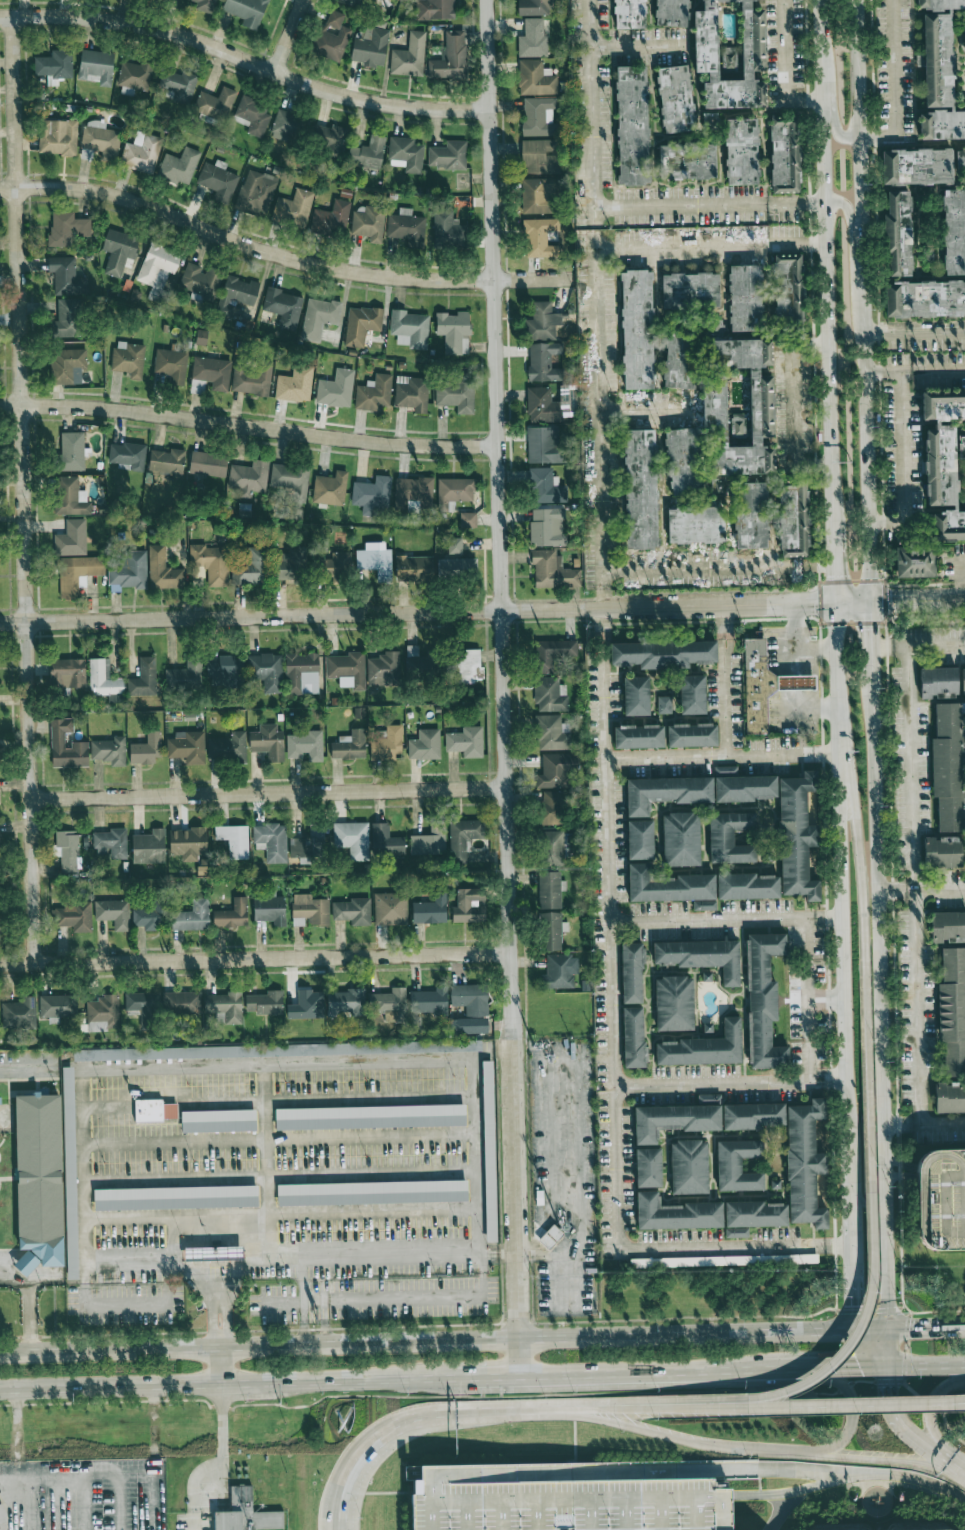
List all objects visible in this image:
building: (352, 2)
building: (205, 5)
building: (535, 6)
building: (435, 9)
building: (246, 11)
building: (672, 12)
building: (629, 13)
road: (288, 36)
building: (332, 36)
building: (532, 38)
building: (370, 47)
road: (636, 51)
building: (730, 53)
building: (409, 56)
building: (451, 57)
road: (245, 60)
building: (54, 66)
building: (96, 66)
road: (783, 68)
building: (939, 72)
building: (134, 75)
building: (535, 78)
building: (179, 85)
road: (894, 85)
building: (675, 98)
road: (859, 99)
road: (832, 100)
building: (215, 104)
building: (252, 116)
building: (538, 116)
building: (632, 125)
building: (58, 137)
building: (331, 138)
building: (99, 141)
building: (741, 151)
building: (141, 152)
building: (368, 153)
building: (406, 154)
building: (784, 154)
building: (448, 155)
building: (539, 156)
building: (960, 160)
building: (686, 161)
building: (179, 166)
building: (917, 166)
building: (218, 182)
building: (256, 192)
building: (537, 196)
road: (707, 207)
building: (293, 208)
building: (330, 218)
building: (368, 222)
road: (862, 222)
building: (407, 227)
building: (67, 228)
building: (448, 231)
road: (850, 231)
building: (954, 231)
building: (898, 234)
building: (540, 237)
road: (708, 246)
building: (119, 251)
road: (278, 255)
road: (826, 260)
road: (863, 260)
building: (158, 267)
building: (67, 276)
building: (201, 279)
building: (690, 290)
building: (788, 291)
building: (236, 295)
building: (745, 298)
building: (925, 299)
road: (591, 304)
building: (283, 307)
building: (319, 317)
building: (67, 318)
building: (542, 322)
building: (361, 324)
building: (410, 328)
building: (637, 329)
building: (454, 331)
road: (914, 331)
building: (681, 354)
building: (129, 359)
building: (544, 362)
building: (171, 365)
building: (67, 366)
road: (915, 370)
building: (210, 374)
building: (252, 379)
building: (295, 384)
building: (336, 389)
building: (374, 393)
building: (411, 393)
building: (455, 395)
road: (788, 401)
road: (642, 405)
building: (546, 406)
building: (738, 407)
road: (249, 426)
road: (867, 438)
building: (545, 445)
building: (72, 451)
building: (127, 456)
building: (167, 461)
building: (945, 461)
building: (677, 463)
building: (207, 464)
road: (904, 464)
building: (248, 479)
building: (291, 479)
building: (546, 486)
building: (330, 488)
road: (25, 491)
building: (633, 491)
building: (454, 492)
building: (413, 493)
building: (372, 496)
building: (70, 497)
building: (743, 517)
building: (468, 519)
building: (780, 520)
building: (685, 526)
building: (547, 527)
building: (71, 538)
building: (454, 545)
building: (375, 560)
building: (915, 560)
road: (834, 561)
road: (962, 561)
road: (715, 562)
building: (211, 563)
building: (290, 565)
building: (336, 567)
building: (252, 568)
building: (414, 568)
building: (457, 568)
building: (163, 570)
building: (128, 571)
building: (552, 571)
building: (77, 573)
road: (960, 580)
road: (917, 600)
road: (852, 602)
traffic signals: (871, 602)
traffic signals: (834, 603)
road: (416, 612)
road: (871, 633)
road: (795, 637)
road: (815, 645)
road: (883, 649)
road: (903, 649)
building: (663, 650)
building: (552, 652)
road: (835, 658)
building: (417, 661)
road: (801, 661)
road: (789, 662)
building: (468, 665)
road: (501, 668)
building: (347, 669)
building: (383, 669)
building: (266, 671)
building: (67, 673)
building: (302, 674)
building: (185, 676)
building: (103, 678)
building: (144, 678)
building: (795, 679)
gas station: (795, 679)
road: (797, 679)
road: (807, 679)
road: (783, 680)
building: (960, 680)
road: (724, 681)
building: (933, 682)
building: (757, 685)
building: (692, 692)
building: (549, 693)
building: (636, 694)
road: (790, 696)
road: (797, 696)
road: (802, 696)
building: (115, 698)
building: (664, 703)
road: (814, 710)
building: (551, 731)
building: (691, 733)
building: (639, 735)
building: (268, 741)
building: (466, 741)
building: (387, 744)
building: (66, 745)
building: (349, 745)
building: (424, 745)
building: (305, 746)
building: (187, 747)
building: (227, 747)
building: (146, 749)
building: (109, 750)
road: (720, 758)
building: (557, 768)
building: (941, 768)
building: (726, 769)
building: (744, 786)
building: (665, 790)
road: (268, 794)
building: (551, 807)
building: (796, 832)
building: (730, 836)
building: (464, 837)
building: (639, 837)
building: (680, 837)
building: (352, 839)
building: (234, 840)
building: (271, 841)
building: (385, 841)
building: (429, 841)
building: (111, 843)
building: (188, 843)
building: (308, 843)
building: (552, 846)
building: (149, 847)
building: (67, 850)
road: (913, 854)
building: (937, 855)
building: (766, 856)
building: (668, 883)
building: (746, 884)
building: (549, 888)
road: (936, 888)
road: (892, 889)
road: (841, 897)
building: (704, 903)
building: (469, 906)
building: (269, 908)
building: (390, 908)
building: (431, 909)
building: (309, 910)
building: (353, 911)
road: (864, 911)
building: (114, 913)
building: (232, 914)
building: (74, 916)
building: (149, 916)
building: (192, 916)
road: (725, 919)
building: (945, 926)
road: (608, 928)
building: (550, 930)
building: (0, 931)
building: (701, 954)
road: (254, 959)
building: (559, 970)
building: (631, 970)
building: (706, 975)
road: (826, 991)
building: (471, 996)
road: (880, 996)
building: (795, 997)
building: (764, 998)
road: (809, 999)
building: (430, 1000)
building: (346, 1001)
building: (389, 1001)
building: (673, 1001)
building: (181, 1002)
building: (265, 1002)
road: (827, 1004)
building: (58, 1005)
building: (143, 1005)
building: (225, 1005)
building: (307, 1005)
building: (19, 1013)
building: (949, 1013)
building: (102, 1014)
building: (708, 1026)
building: (632, 1036)
building: (703, 1045)
building: (277, 1048)
road: (333, 1057)
road: (730, 1085)
road: (368, 1097)
building: (946, 1098)
building: (708, 1099)
road: (224, 1101)
road: (105, 1107)
building: (154, 1110)
building: (751, 1114)
building: (369, 1115)
building: (674, 1118)
building: (218, 1119)
road: (939, 1123)
road: (898, 1124)
road: (369, 1136)
road: (848, 1137)
road: (172, 1142)
building: (489, 1149)
road: (264, 1158)
building: (804, 1161)
building: (737, 1164)
building: (688, 1165)
road: (900, 1165)
building: (648, 1166)
road: (566, 1167)
road: (370, 1172)
building: (70, 1173)
road: (901, 1177)
building: (38, 1178)
road: (173, 1178)
building: (775, 1183)
building: (372, 1190)
building: (175, 1196)
building: (942, 1198)
parking garage: (942, 1198)
road: (865, 1204)
road: (370, 1211)
building: (675, 1211)
building: (754, 1212)
road: (96, 1219)
road: (228, 1230)
road: (194, 1231)
building: (736, 1231)
building: (550, 1235)
road: (736, 1246)
building: (213, 1251)
road: (229, 1251)
road: (195, 1252)
road: (392, 1255)
road: (128, 1256)
road: (568, 1256)
building: (723, 1260)
road: (852, 1260)
road: (13, 1276)
road: (213, 1280)
road: (229, 1296)
road: (422, 1296)
road: (206, 1297)
road: (151, 1303)
traffic signals: (855, 1304)
road: (29, 1313)
road: (861, 1320)
road: (926, 1327)
traffic signals: (912, 1328)
road: (443, 1338)
road: (221, 1339)
road: (887, 1347)
road: (860, 1348)
road: (520, 1357)
road: (221, 1365)
road: (926, 1366)
road: (827, 1369)
traffic signals: (832, 1369)
road: (645, 1378)
road: (486, 1379)
traffic signals: (886, 1384)
road: (225, 1385)
road: (847, 1392)
road: (948, 1398)
road: (929, 1402)
road: (963, 1402)
road: (963, 1403)
road: (823, 1405)
road: (655, 1408)
road: (583, 1410)
road: (931, 1410)
road: (520, 1412)
road: (462, 1414)
road: (898, 1421)
road: (637, 1430)
road: (357, 1452)
road: (777, 1454)
road: (221, 1455)
road: (894, 1460)
road: (955, 1464)
road: (668, 1469)
road: (93, 1471)
road: (16, 1474)
road: (848, 1477)
road: (221, 1487)
airport: (507, 1490)
parking lot: (82, 1495)
road: (118, 1500)
road: (154, 1500)
road: (86, 1501)
building: (547, 1501)
road: (1, 1502)
parking lot: (561, 1503)
building: (246, 1513)
road: (195, 1520)

